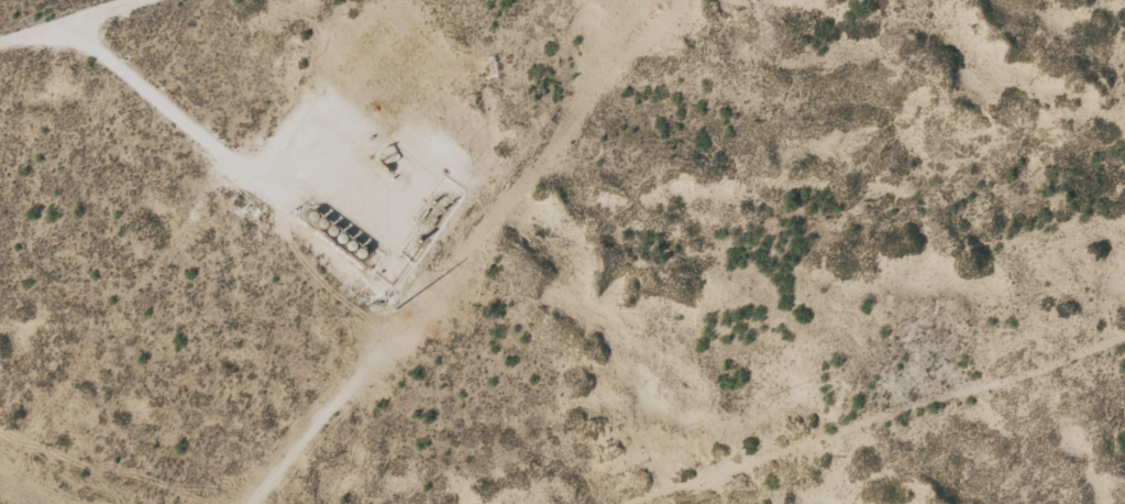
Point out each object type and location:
road: (82, 30)
power tower: (415, 311)
road: (859, 428)

